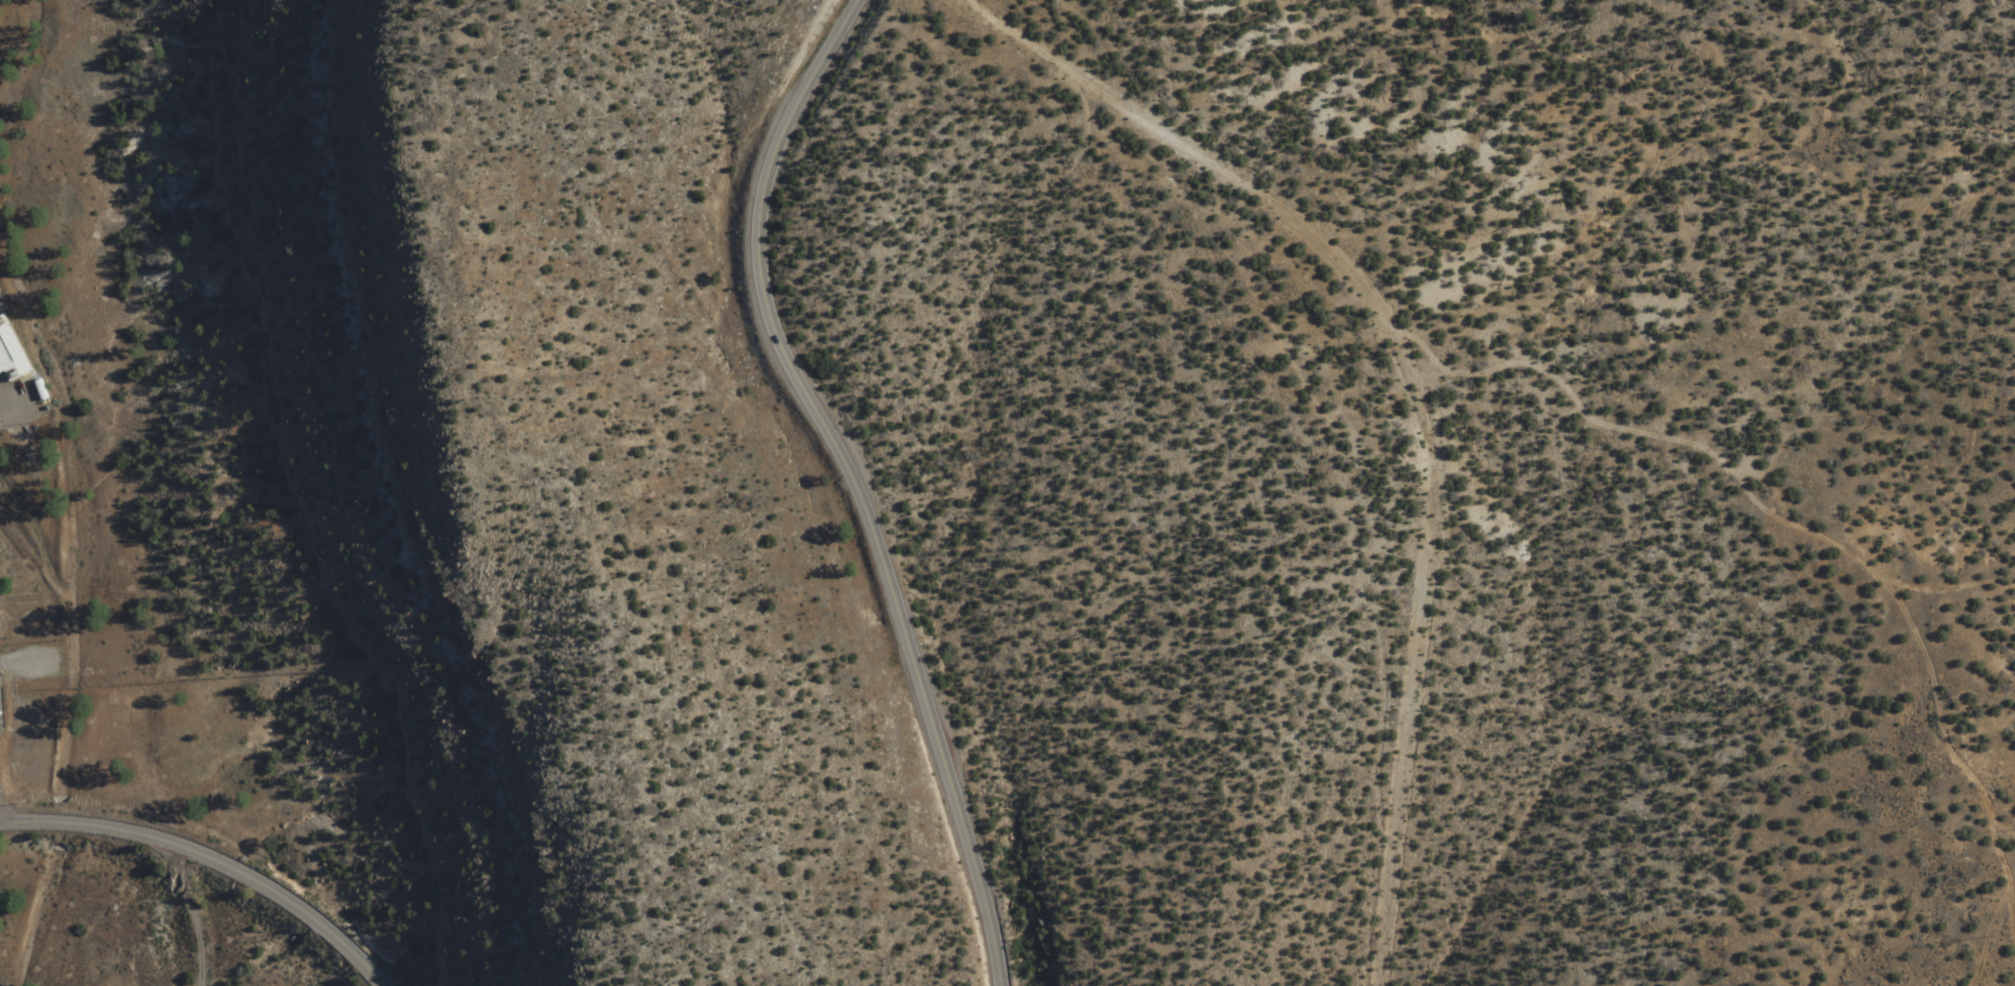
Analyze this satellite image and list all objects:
building: (12, 354)
road: (1473, 367)
road: (852, 482)
road: (1953, 735)
road: (210, 858)
road: (193, 915)
road: (2008, 915)

